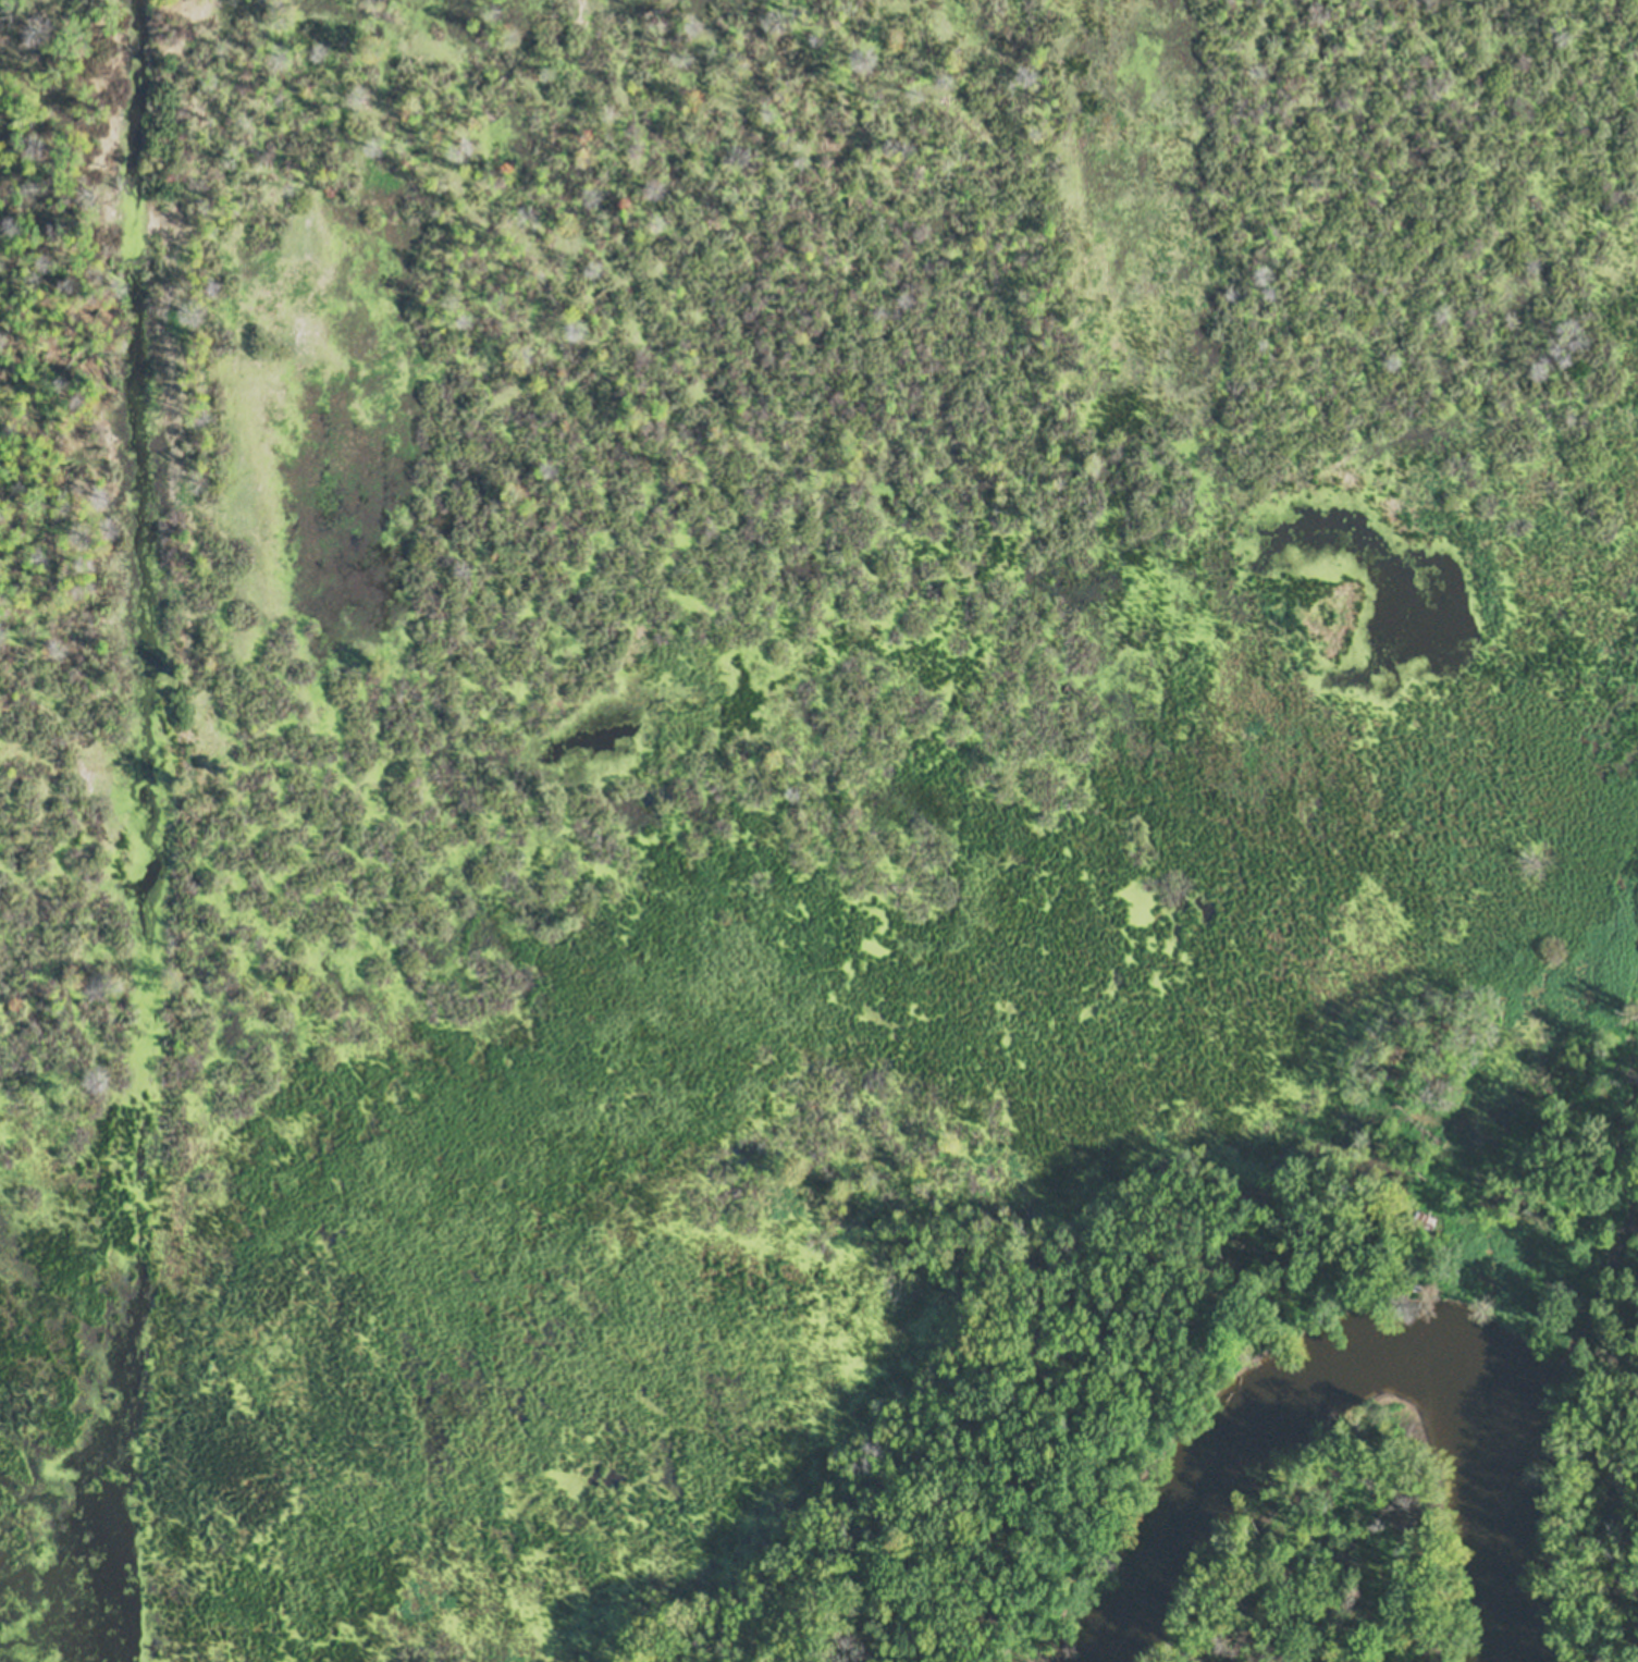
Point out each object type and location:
building: (1425, 1215)
river: (1363, 1377)

